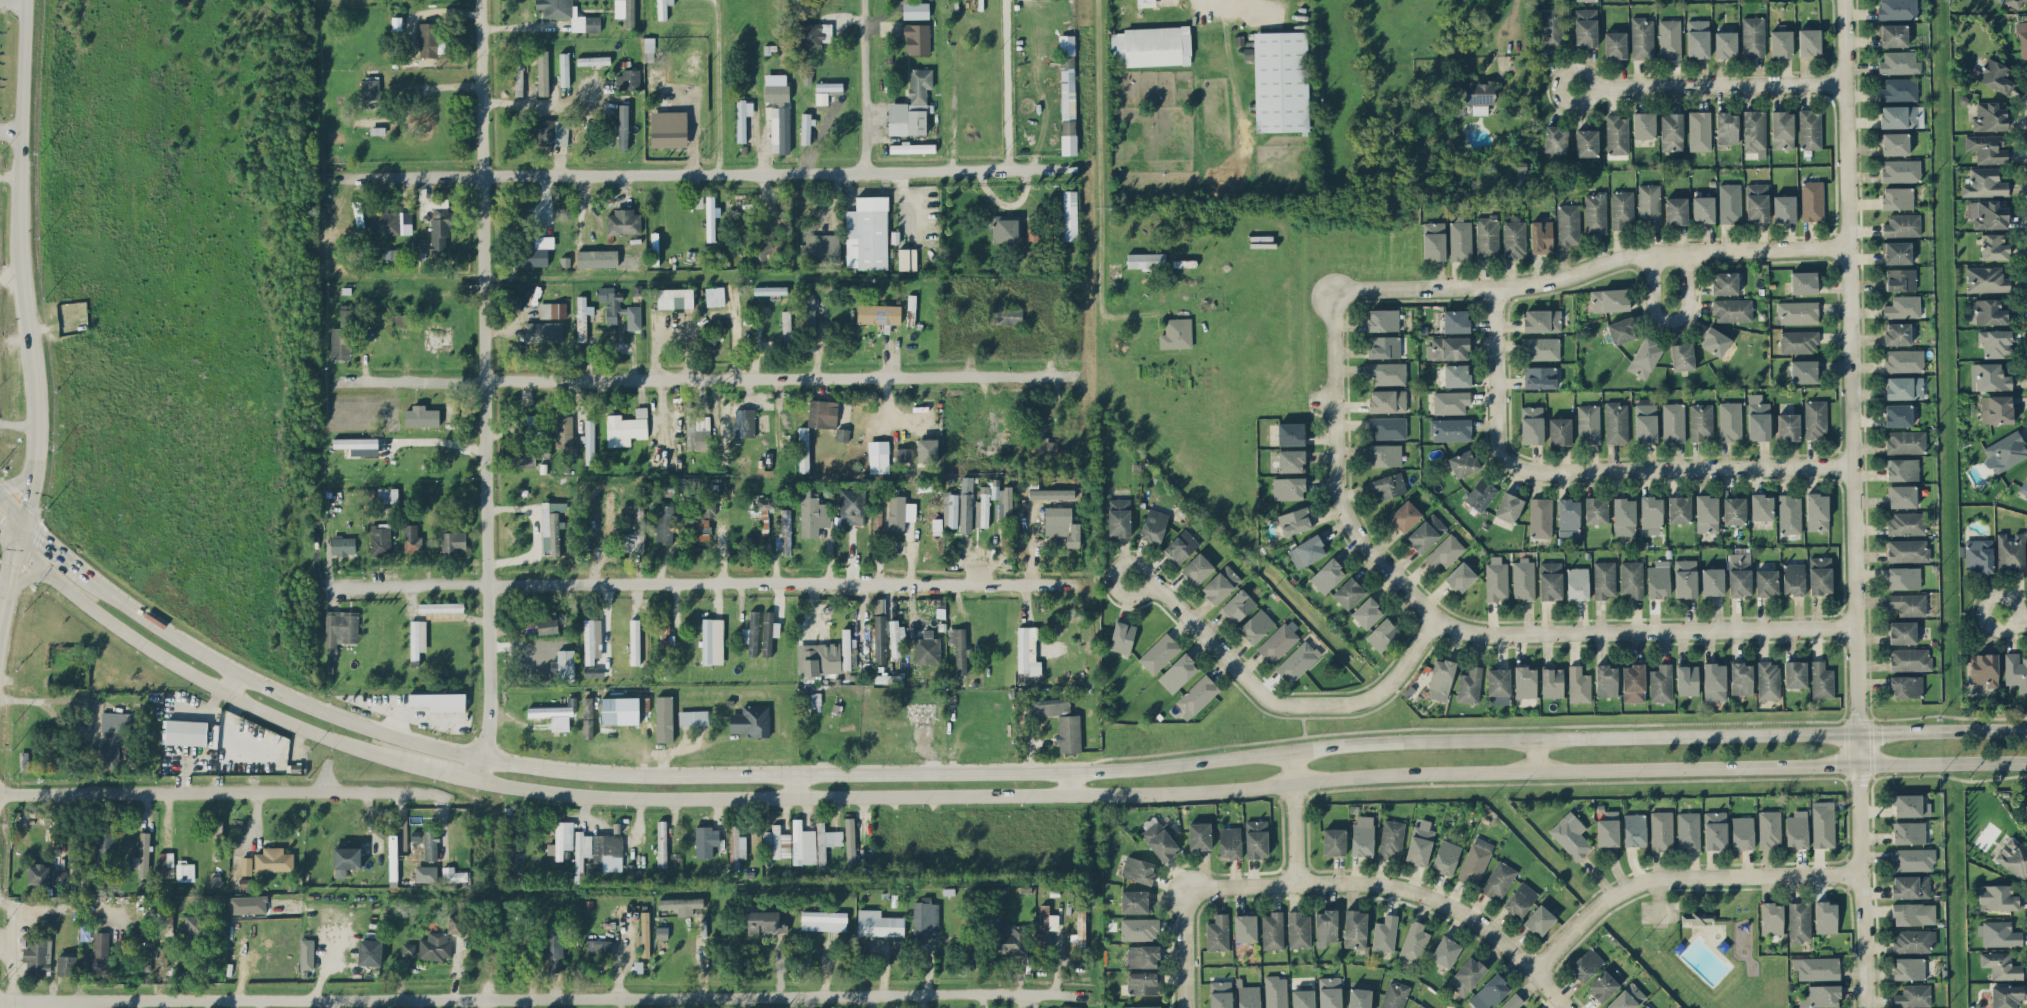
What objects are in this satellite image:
road: (13, 0)
building: (1584, 0)
building: (1999, 0)
building: (1145, 2)
building: (2014, 3)
building: (662, 8)
building: (1897, 9)
building: (915, 10)
building: (625, 11)
building: (569, 14)
building: (1586, 27)
building: (1551, 28)
building: (814, 34)
building: (1893, 34)
building: (1753, 36)
building: (1642, 37)
building: (916, 38)
building: (1669, 38)
building: (1697, 38)
building: (2022, 38)
building: (428, 39)
building: (1809, 41)
building: (1066, 44)
building: (1615, 44)
building: (1725, 44)
building: (1151, 46)
building: (648, 48)
building: (593, 60)
building: (1899, 62)
building: (564, 69)
building: (542, 72)
building: (518, 74)
building: (1995, 76)
building: (807, 78)
building: (627, 79)
building: (1280, 81)
road: (865, 85)
road: (1003, 85)
road: (718, 86)
building: (829, 86)
building: (1067, 86)
road: (1709, 86)
building: (775, 87)
building: (370, 89)
building: (1899, 89)
building: (1478, 95)
building: (821, 97)
road: (542, 100)
building: (911, 105)
building: (1899, 116)
building: (1991, 116)
building: (742, 117)
building: (374, 123)
building: (623, 125)
building: (1643, 125)
building: (1726, 127)
building: (668, 128)
building: (806, 128)
building: (1809, 128)
building: (780, 129)
building: (1782, 129)
building: (555, 130)
building: (1699, 130)
road: (11, 131)
building: (1671, 131)
building: (1754, 131)
building: (1617, 134)
building: (1068, 136)
building: (1555, 139)
building: (1586, 142)
building: (1895, 143)
building: (911, 147)
building: (1987, 148)
building: (1901, 170)
road: (706, 173)
road: (1098, 173)
building: (1984, 183)
building: (1897, 197)
building: (1812, 200)
building: (695, 201)
building: (1757, 201)
building: (1729, 202)
building: (1649, 203)
building: (1703, 208)
building: (1784, 208)
building: (1622, 209)
building: (1676, 210)
building: (1595, 212)
building: (357, 213)
building: (1069, 214)
building: (1988, 214)
building: (711, 217)
building: (391, 222)
building: (623, 222)
building: (440, 224)
building: (1568, 224)
building: (1902, 225)
building: (1007, 227)
building: (867, 233)
building: (1031, 233)
building: (1541, 236)
building: (1460, 238)
building: (1487, 238)
building: (1514, 238)
building: (1434, 240)
building: (1994, 246)
building: (821, 247)
building: (534, 250)
building: (760, 251)
building: (1897, 252)
building: (392, 253)
building: (907, 258)
building: (1145, 260)
road: (1588, 267)
building: (1900, 279)
building: (1986, 279)
building: (1724, 282)
building: (1803, 282)
building: (770, 290)
building: (715, 295)
building: (675, 297)
building: (515, 299)
building: (1609, 299)
building: (1903, 306)
building: (619, 308)
building: (552, 309)
building: (1732, 309)
building: (1990, 311)
road: (27, 312)
building: (809, 312)
building: (1798, 312)
building: (878, 313)
building: (1004, 314)
building: (582, 317)
building: (402, 319)
building: (1382, 319)
building: (1455, 320)
building: (1542, 320)
road: (1668, 320)
building: (786, 323)
building: (1621, 330)
building: (542, 331)
building: (1176, 333)
building: (1899, 333)
building: (342, 336)
building: (1714, 341)
building: (1799, 341)
building: (1995, 342)
building: (1383, 346)
building: (1448, 347)
building: (1541, 347)
building: (1682, 356)
building: (1644, 357)
building: (1903, 360)
road: (1491, 370)
building: (1804, 371)
building: (1388, 372)
building: (1456, 375)
building: (1989, 376)
road: (705, 377)
building: (1539, 377)
building: (1904, 387)
road: (484, 390)
building: (1387, 400)
building: (1450, 401)
building: (1996, 409)
building: (822, 413)
building: (1898, 414)
road: (664, 415)
building: (421, 416)
building: (1815, 418)
building: (1701, 420)
building: (1730, 420)
building: (1758, 420)
building: (740, 421)
building: (1616, 422)
building: (1645, 422)
building: (1673, 422)
building: (1588, 423)
building: (1531, 424)
building: (1788, 426)
building: (626, 427)
building: (1387, 427)
building: (533, 428)
building: (562, 428)
building: (1451, 429)
building: (697, 430)
building: (1559, 431)
building: (1290, 433)
building: (841, 434)
building: (589, 440)
building: (1906, 441)
building: (358, 445)
building: (1042, 447)
building: (803, 448)
building: (927, 449)
building: (2005, 451)
building: (904, 454)
building: (524, 455)
building: (1385, 455)
building: (878, 456)
building: (1291, 460)
building: (1463, 462)
road: (1670, 469)
building: (1902, 469)
building: (1032, 481)
building: (1388, 486)
building: (967, 487)
building: (2024, 487)
building: (1288, 488)
building: (1051, 493)
building: (1480, 493)
building: (387, 495)
building: (1902, 496)
building: (878, 499)
building: (765, 503)
road: (1851, 503)
building: (852, 505)
road: (11, 506)
building: (557, 506)
building: (1762, 506)
building: (1509, 507)
building: (1596, 509)
building: (1679, 509)
building: (1004, 510)
building: (1734, 510)
building: (951, 511)
building: (1817, 511)
building: (609, 512)
building: (896, 512)
building: (965, 513)
building: (1706, 513)
building: (1789, 513)
building: (813, 514)
building: (1405, 515)
building: (1651, 515)
building: (1624, 516)
building: (1119, 517)
building: (1540, 517)
building: (1568, 517)
building: (1295, 520)
building: (1906, 523)
building: (664, 524)
building: (1062, 524)
building: (1153, 525)
building: (936, 526)
building: (784, 532)
building: (1426, 532)
road: (8, 534)
building: (552, 536)
building: (379, 538)
building: (411, 538)
building: (629, 539)
building: (453, 540)
building: (343, 544)
road: (53, 546)
building: (1180, 546)
building: (1907, 550)
building: (1306, 551)
building: (1445, 551)
building: (2011, 552)
building: (1978, 555)
building: (1197, 568)
building: (1739, 573)
building: (1820, 574)
building: (1327, 575)
building: (1460, 576)
building: (1685, 577)
building: (1904, 577)
building: (1496, 578)
building: (1631, 578)
building: (1793, 578)
road: (4, 579)
building: (1523, 579)
building: (1604, 579)
building: (1658, 579)
building: (1550, 580)
building: (1712, 581)
building: (1766, 581)
road: (699, 583)
building: (1577, 583)
building: (1220, 584)
building: (1348, 592)
building: (1908, 603)
building: (1237, 605)
building: (879, 606)
building: (1367, 612)
road: (2014, 618)
building: (547, 624)
building: (1256, 625)
building: (339, 628)
road: (1459, 630)
building: (1902, 631)
building: (768, 632)
building: (751, 633)
building: (1383, 634)
building: (895, 636)
building: (417, 637)
building: (1122, 637)
building: (879, 638)
building: (592, 639)
building: (712, 640)
building: (1279, 641)
building: (846, 647)
building: (927, 648)
building: (958, 648)
building: (1027, 651)
building: (1159, 653)
building: (818, 658)
building: (1910, 658)
building: (1297, 661)
building: (562, 666)
building: (1984, 669)
building: (594, 670)
building: (2016, 671)
building: (1177, 672)
building: (1795, 673)
building: (887, 678)
building: (1741, 678)
building: (1440, 679)
building: (1687, 679)
road: (204, 680)
building: (1606, 680)
building: (1768, 680)
building: (1821, 680)
building: (1498, 681)
building: (1525, 681)
building: (1552, 681)
building: (1714, 681)
road: (231, 682)
building: (1633, 682)
building: (1660, 683)
building: (1578, 684)
building: (1469, 685)
building: (1905, 686)
building: (1197, 696)
building: (438, 701)
road: (1275, 704)
building: (1052, 705)
building: (1030, 709)
building: (922, 712)
building: (553, 715)
building: (692, 717)
building: (664, 718)
building: (751, 721)
building: (885, 721)
building: (185, 731)
building: (1068, 732)
building: (114, 736)
road: (1534, 755)
building: (23, 760)
road: (1033, 767)
road: (1569, 770)
road: (450, 772)
road: (1072, 781)
road: (792, 783)
road: (221, 790)
road: (794, 797)
building: (1910, 805)
road: (1292, 817)
building: (1823, 823)
building: (1797, 828)
building: (1608, 829)
building: (1634, 829)
building: (1769, 829)
building: (218, 830)
building: (1661, 830)
building: (1688, 830)
building: (1715, 830)
building: (1742, 832)
building: (1908, 832)
building: (1570, 834)
building: (1199, 835)
building: (1362, 835)
building: (767, 836)
building: (1256, 838)
building: (104, 839)
building: (561, 839)
building: (849, 839)
building: (1391, 839)
building: (706, 840)
building: (1159, 840)
building: (826, 841)
building: (1333, 841)
building: (780, 842)
building: (1229, 842)
building: (661, 843)
building: (803, 843)
building: (1420, 843)
building: (430, 844)
building: (738, 845)
building: (581, 848)
building: (607, 852)
building: (142, 855)
building: (1446, 856)
building: (392, 857)
building: (2014, 857)
building: (273, 859)
building: (346, 859)
building: (1913, 859)
building: (1475, 861)
building: (165, 864)
building: (245, 865)
building: (1137, 869)
building: (185, 870)
building: (38, 873)
building: (453, 874)
road: (1676, 875)
building: (59, 876)
building: (1498, 879)
building: (216, 880)
building: (1910, 886)
road: (1392, 887)
building: (1998, 897)
building: (1520, 899)
building: (1134, 901)
building: (248, 904)
building: (683, 905)
parking lot: (1659, 909)
building: (1913, 913)
building: (924, 916)
building: (1772, 917)
building: (1826, 917)
building: (1541, 918)
building: (823, 920)
building: (1799, 921)
building: (766, 922)
building: (455, 923)
building: (878, 923)
building: (1046, 923)
building: (194, 926)
building: (1080, 927)
building: (1245, 927)
building: (1325, 927)
building: (1139, 928)
building: (1355, 928)
building: (1298, 929)
building: (1272, 930)
building: (661, 932)
building: (1217, 932)
building: (645, 933)
building: (1384, 933)
building: (2000, 933)
building: (1010, 939)
building: (1913, 940)
building: (1414, 941)
park: (1704, 942)
building: (435, 946)
building: (598, 946)
road: (1181, 948)
building: (408, 949)
building: (553, 949)
building: (1706, 950)
building: (99, 951)
building: (369, 951)
building: (1445, 951)
building: (306, 953)
building: (37, 954)
building: (1142, 955)
building: (66, 964)
building: (1585, 964)
building: (2001, 965)
building: (1817, 967)
building: (1908, 967)
building: (1466, 975)
building: (1143, 982)
building: (1605, 984)
building: (1276, 991)
building: (1330, 992)
building: (1489, 992)
building: (1220, 994)
building: (1248, 995)
building: (1394, 995)
building: (1913, 995)
building: (2006, 995)
road: (544, 996)
building: (1821, 996)
building: (1627, 997)
building: (1302, 998)
building: (1359, 998)
building: (1512, 1001)
building: (1069, 1006)
building: (1140, 1006)
building: (1419, 1006)
building: (1646, 1006)

